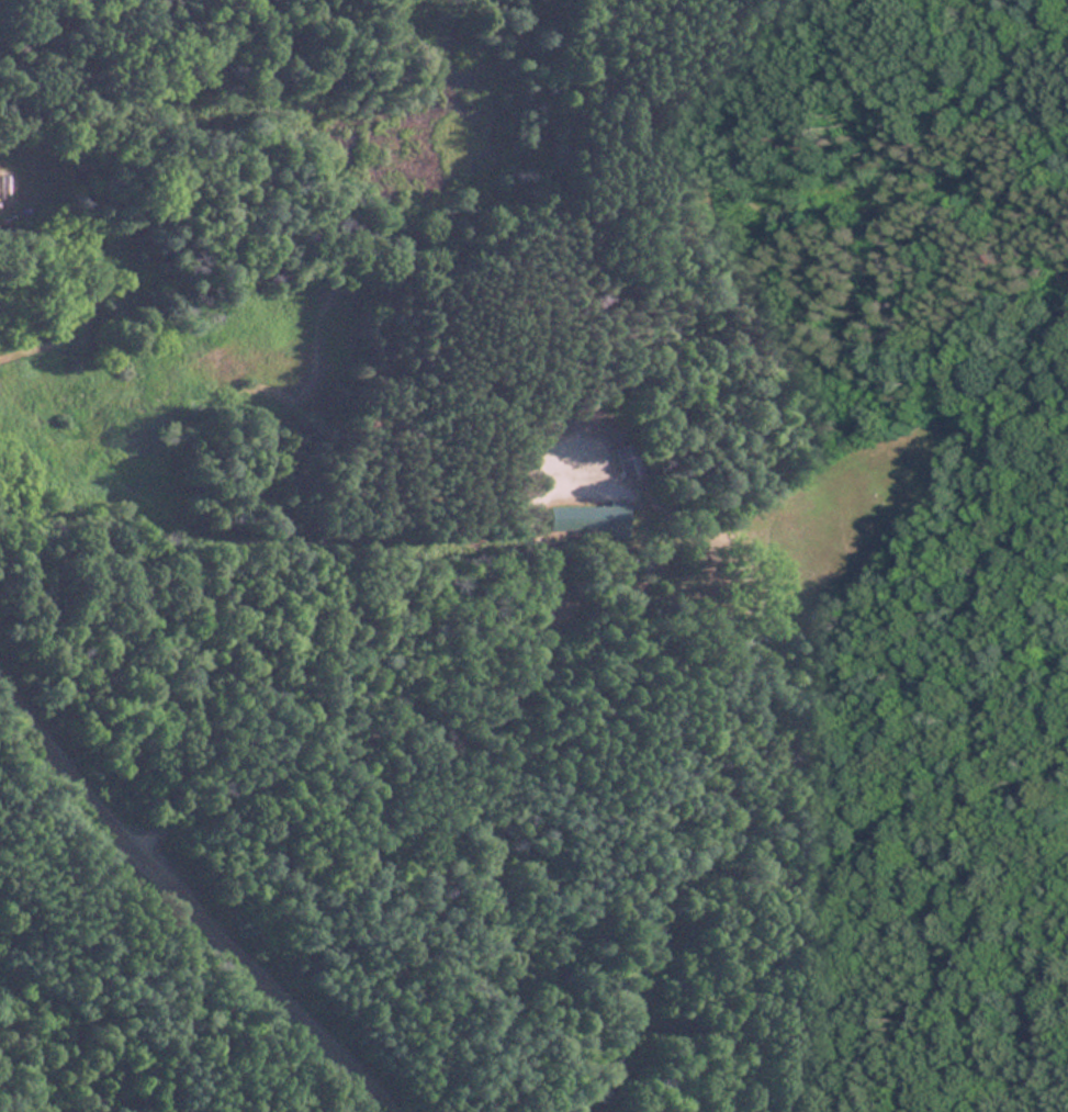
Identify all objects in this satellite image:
building: (550, 425)
building: (627, 459)
building: (588, 518)
park: (536, 558)
road: (179, 911)

